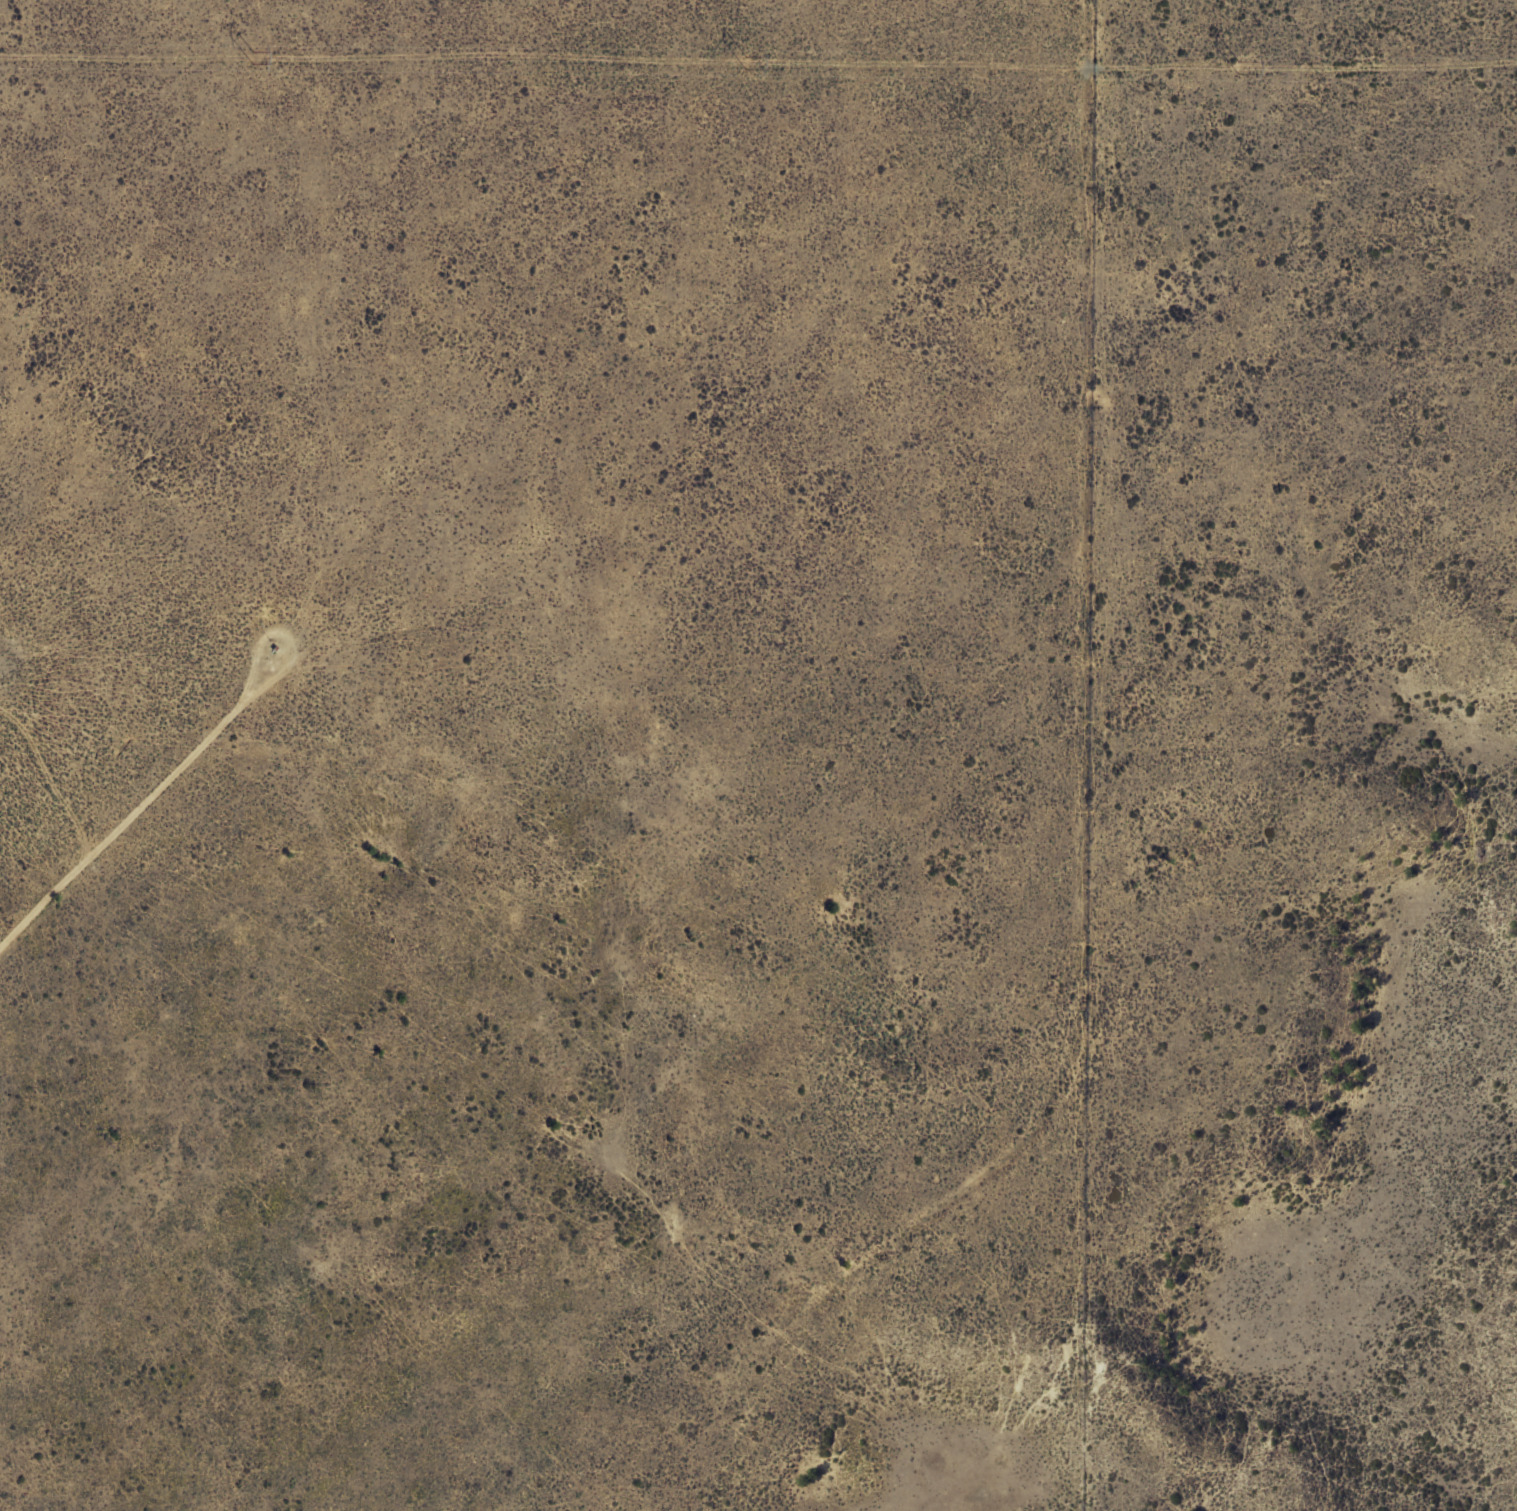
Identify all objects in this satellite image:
power tower: (251, 58)
power tower: (743, 65)
power tower: (1236, 65)
road: (136, 847)

